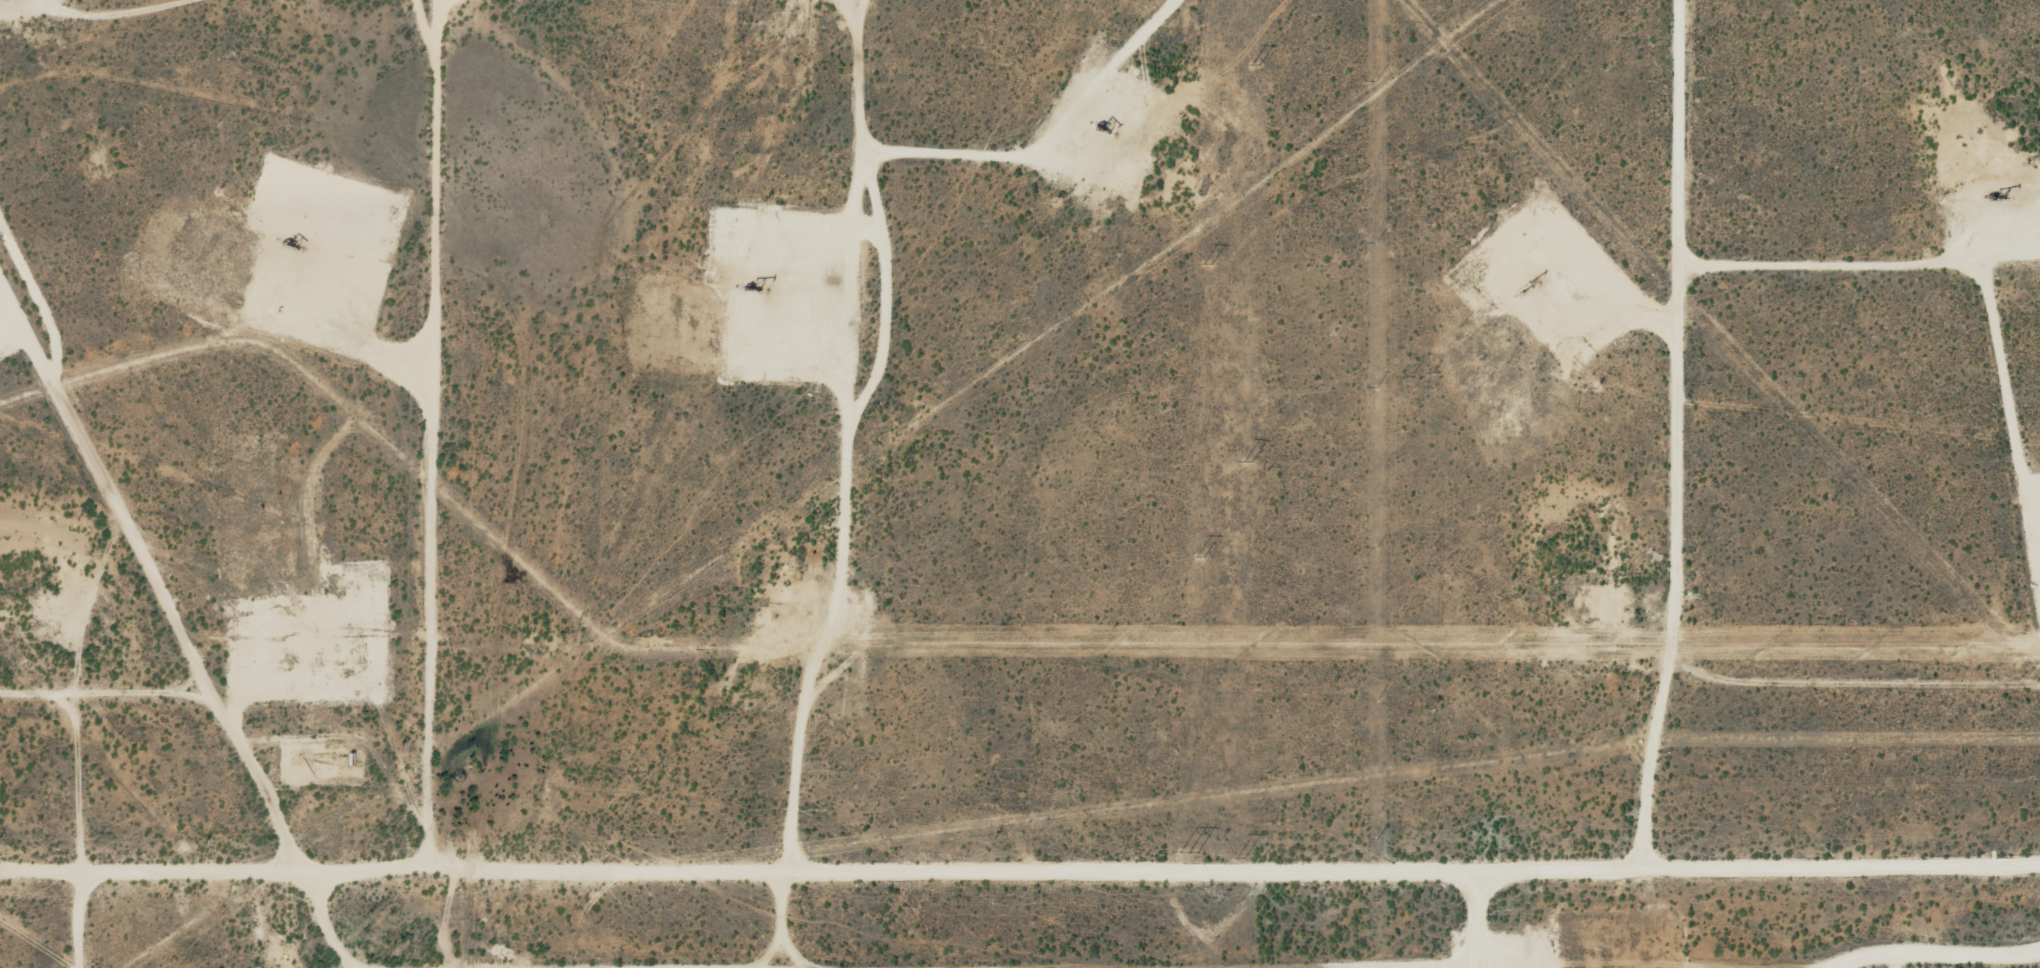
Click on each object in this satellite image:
power tower: (1251, 64)
power tower: (1206, 265)
road: (1671, 433)
road: (466, 434)
road: (849, 435)
power tower: (1248, 463)
road: (105, 493)
power tower: (1198, 558)
road: (1857, 702)
road: (230, 745)
road: (115, 838)
power tower: (1188, 852)
power tower: (1238, 858)
road: (1019, 865)
road: (1463, 918)

